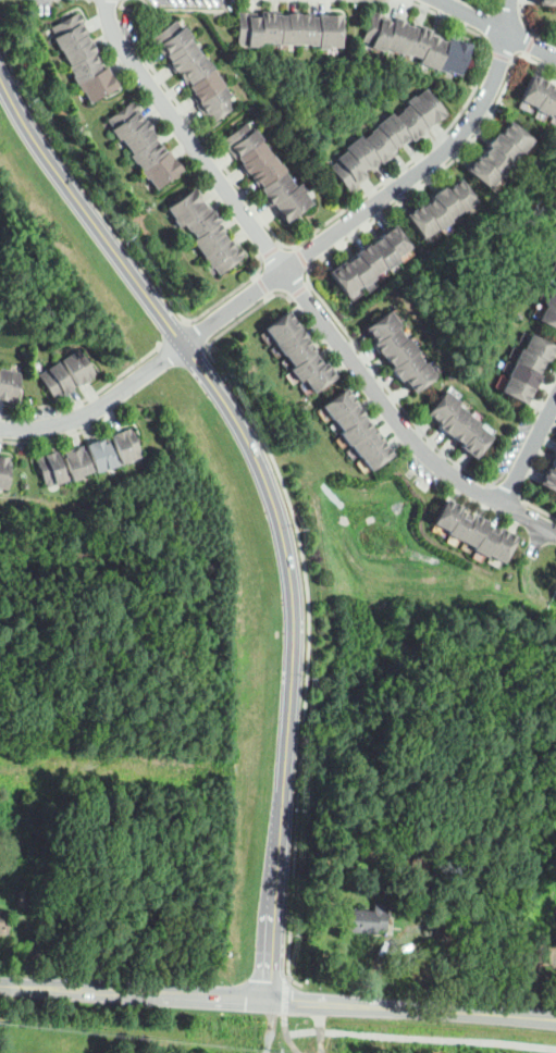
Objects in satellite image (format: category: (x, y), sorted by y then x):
street lamp: (369, 2)
building: (548, 2)
street lamp: (120, 8)
road: (189, 9)
road: (475, 15)
road: (507, 15)
road: (524, 17)
street lamp: (533, 24)
building: (69, 27)
building: (248, 27)
building: (268, 27)
building: (289, 28)
building: (310, 28)
building: (331, 28)
building: (416, 41)
road: (531, 44)
road: (531, 44)
building: (78, 46)
road: (499, 55)
building: (88, 64)
building: (195, 69)
building: (98, 83)
building: (533, 89)
building: (546, 98)
street lamp: (33, 99)
building: (427, 107)
street lamp: (459, 108)
building: (554, 110)
building: (125, 117)
building: (411, 121)
building: (394, 129)
building: (138, 135)
building: (515, 135)
building: (380, 144)
building: (505, 147)
building: (150, 152)
building: (362, 152)
building: (495, 159)
building: (348, 169)
building: (163, 170)
building: (269, 170)
building: (483, 171)
street lamp: (198, 173)
road: (86, 183)
building: (461, 194)
street lamp: (415, 196)
building: (446, 201)
building: (188, 206)
road: (369, 206)
building: (435, 213)
building: (202, 220)
building: (420, 220)
road: (320, 227)
street lamp: (131, 237)
building: (212, 237)
building: (395, 239)
street lamp: (295, 241)
road: (272, 250)
building: (383, 251)
building: (224, 255)
road: (302, 257)
building: (370, 259)
road: (318, 260)
building: (359, 270)
building: (344, 276)
road: (263, 284)
building: (554, 285)
road: (300, 290)
road: (230, 293)
road: (301, 293)
building: (551, 298)
road: (246, 313)
building: (548, 313)
road: (187, 320)
street lamp: (343, 322)
building: (382, 324)
building: (281, 326)
road: (174, 334)
road: (195, 334)
building: (291, 339)
building: (390, 339)
street lamp: (217, 342)
building: (540, 346)
building: (298, 351)
building: (399, 351)
building: (529, 359)
building: (406, 364)
building: (81, 366)
building: (306, 366)
street lamp: (116, 372)
street lamp: (228, 372)
building: (523, 374)
building: (319, 375)
building: (419, 375)
building: (57, 380)
building: (9, 384)
building: (517, 388)
road: (544, 393)
road: (88, 397)
road: (225, 399)
street lamp: (41, 401)
building: (337, 402)
road: (100, 405)
building: (442, 406)
building: (347, 416)
building: (453, 418)
building: (465, 428)
building: (354, 430)
road: (64, 434)
building: (475, 439)
building: (365, 441)
building: (125, 444)
street lamp: (15, 445)
road: (528, 450)
building: (101, 453)
building: (555, 453)
building: (374, 454)
building: (76, 461)
building: (553, 464)
building: (51, 467)
building: (3, 469)
street lamp: (413, 475)
building: (548, 479)
road: (507, 491)
road: (540, 508)
building: (445, 512)
building: (457, 522)
street lamp: (300, 526)
building: (471, 529)
building: (484, 538)
building: (501, 544)
street lamp: (544, 547)
road: (304, 661)
street lamp: (310, 677)
street lamp: (300, 809)
building: (365, 841)
road: (276, 891)
building: (368, 920)
building: (2, 925)
building: (456, 925)
street lamp: (294, 934)
road: (66, 989)
road: (201, 996)
traffic signals: (270, 1000)
road: (390, 1007)
road: (533, 1018)
road: (270, 1026)
road: (320, 1027)
road: (285, 1028)
road: (420, 1038)
building: (465, 1049)

